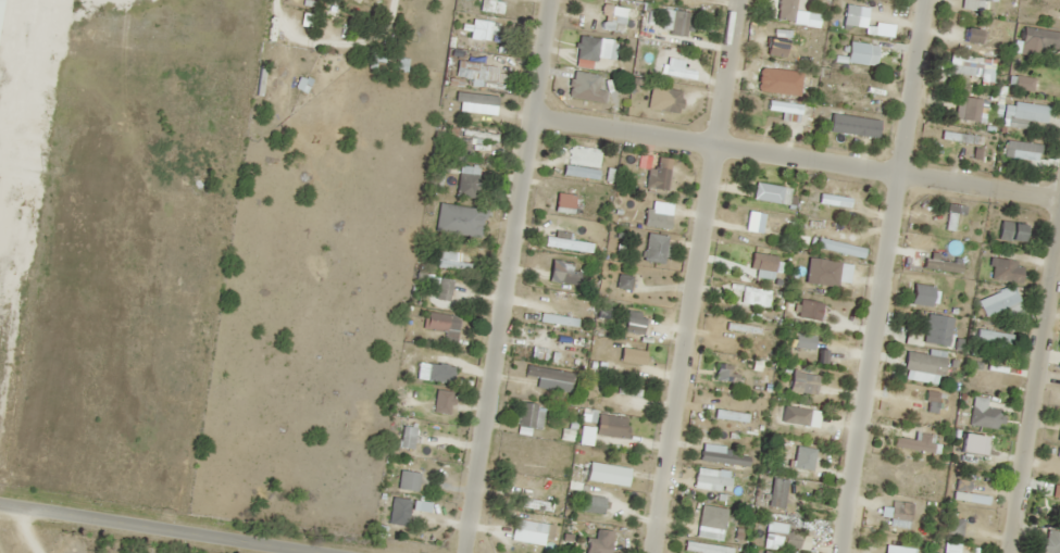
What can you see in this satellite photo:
building: (0, 1)
building: (599, 5)
building: (1040, 13)
building: (850, 15)
building: (677, 23)
building: (479, 33)
building: (973, 37)
building: (1039, 38)
building: (587, 48)
building: (853, 54)
building: (476, 62)
building: (397, 63)
building: (970, 67)
building: (678, 73)
building: (260, 80)
building: (855, 85)
building: (577, 91)
building: (669, 101)
building: (475, 102)
building: (783, 106)
building: (970, 110)
building: (1030, 112)
building: (850, 127)
building: (1022, 148)
road: (795, 158)
building: (577, 168)
building: (657, 177)
building: (467, 181)
building: (766, 192)
building: (564, 202)
building: (952, 215)
building: (656, 218)
building: (764, 219)
building: (1011, 231)
building: (568, 243)
building: (654, 248)
building: (450, 261)
building: (757, 262)
building: (810, 265)
building: (941, 265)
road: (504, 276)
building: (568, 276)
road: (696, 276)
road: (883, 276)
building: (623, 281)
building: (442, 289)
building: (756, 293)
building: (996, 303)
building: (807, 310)
building: (554, 318)
building: (633, 322)
building: (450, 327)
building: (939, 330)
building: (549, 335)
building: (993, 336)
building: (740, 339)
building: (631, 355)
building: (926, 360)
building: (548, 374)
building: (725, 374)
building: (987, 380)
road: (1035, 391)
building: (624, 392)
building: (914, 411)
building: (528, 415)
building: (729, 415)
building: (794, 415)
building: (985, 417)
building: (612, 426)
building: (416, 436)
building: (983, 447)
building: (1058, 452)
building: (785, 455)
building: (722, 457)
building: (531, 464)
building: (911, 477)
building: (728, 486)
building: (973, 487)
building: (773, 492)
building: (535, 503)
building: (900, 510)
building: (419, 511)
building: (714, 517)
building: (953, 524)
road: (151, 530)
building: (784, 538)
building: (1050, 541)
building: (598, 542)
building: (898, 544)

